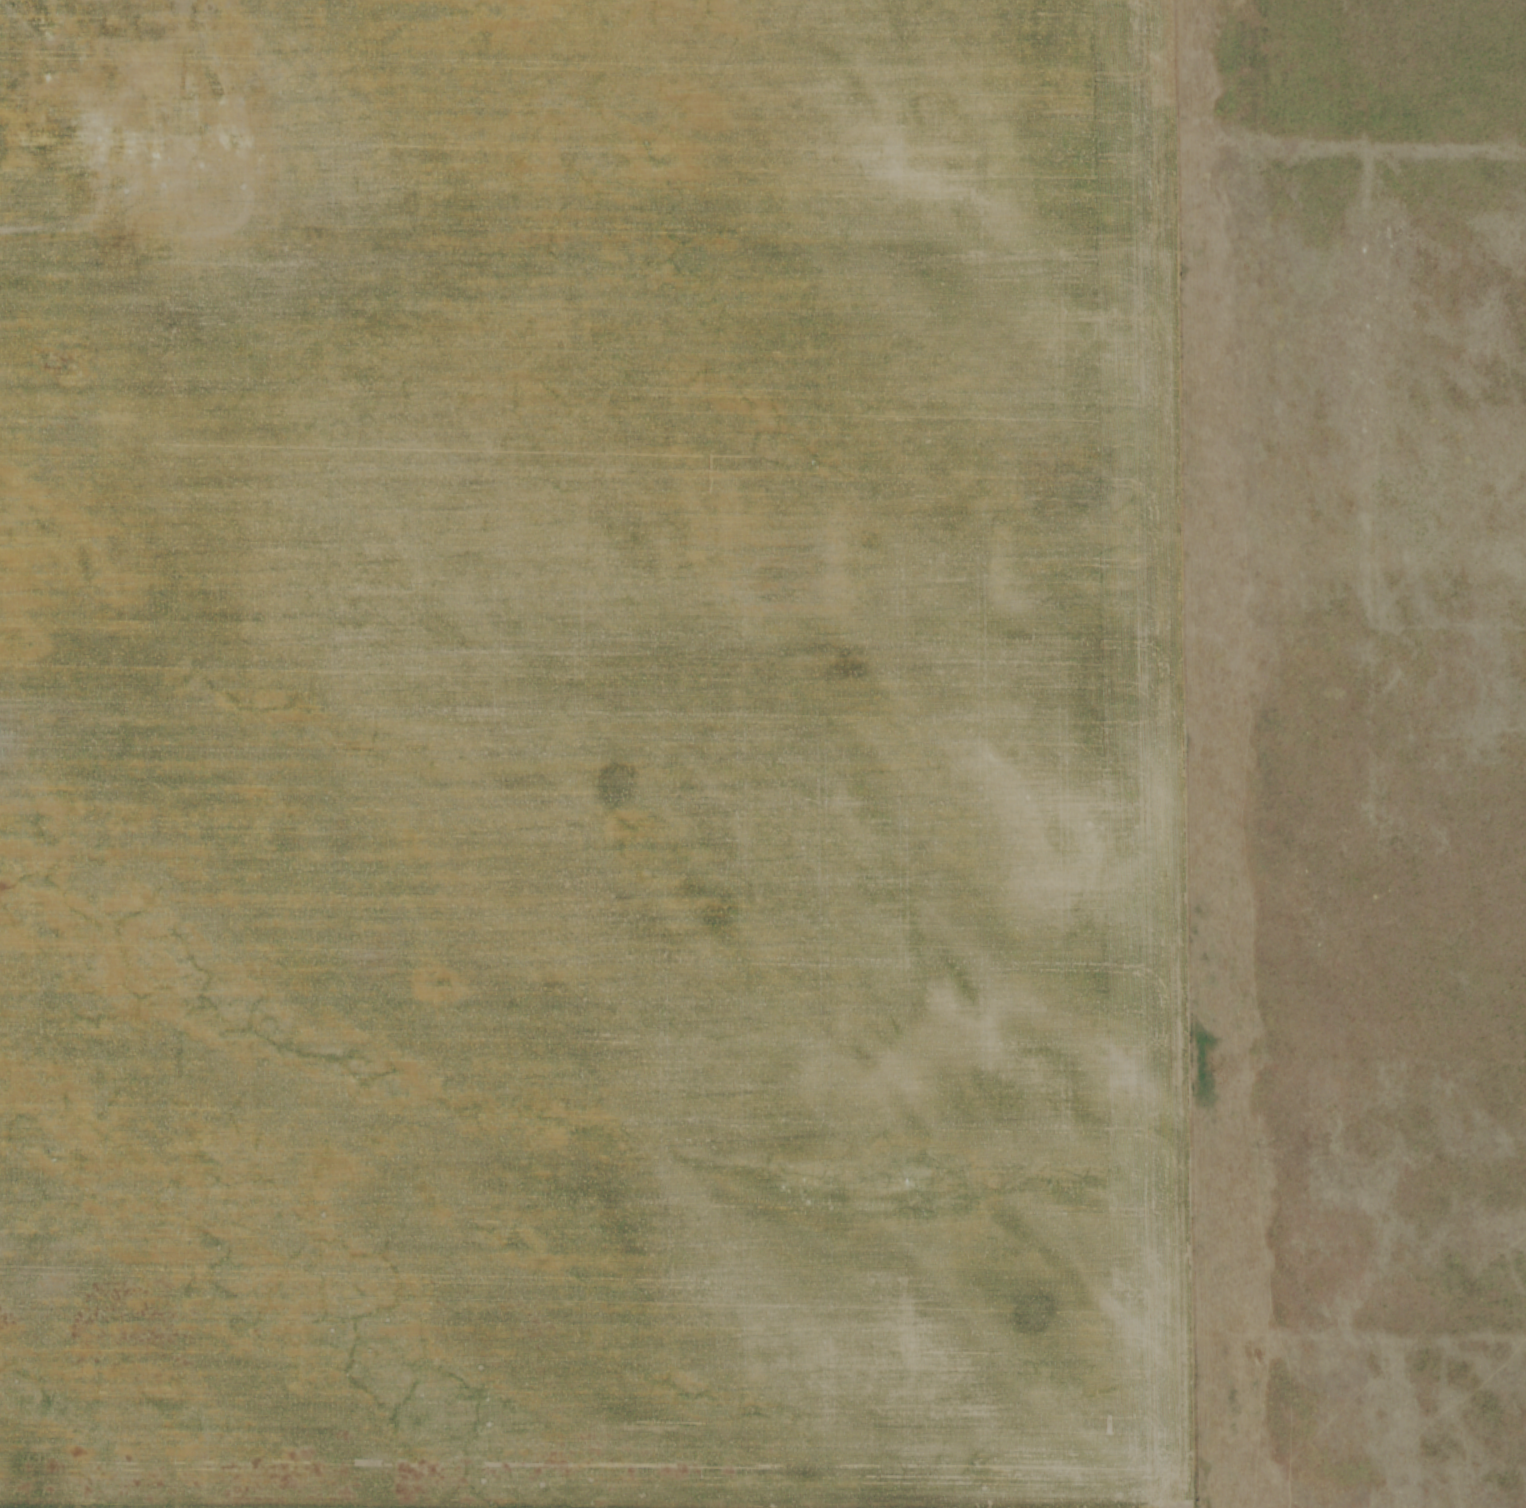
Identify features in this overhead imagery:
building: (196, 6)
silo: (196, 6)
building: (172, 7)
silo: (172, 7)
building: (212, 7)
silo: (212, 7)
building: (212, 21)
silo: (212, 21)
building: (197, 22)
silo: (197, 22)
building: (172, 24)
silo: (172, 24)
building: (54, 68)
silo: (54, 68)
building: (108, 85)
building: (181, 118)
building: (56, 119)
building: (134, 135)
road: (119, 196)
building: (212, 214)
crop: (606, 777)

